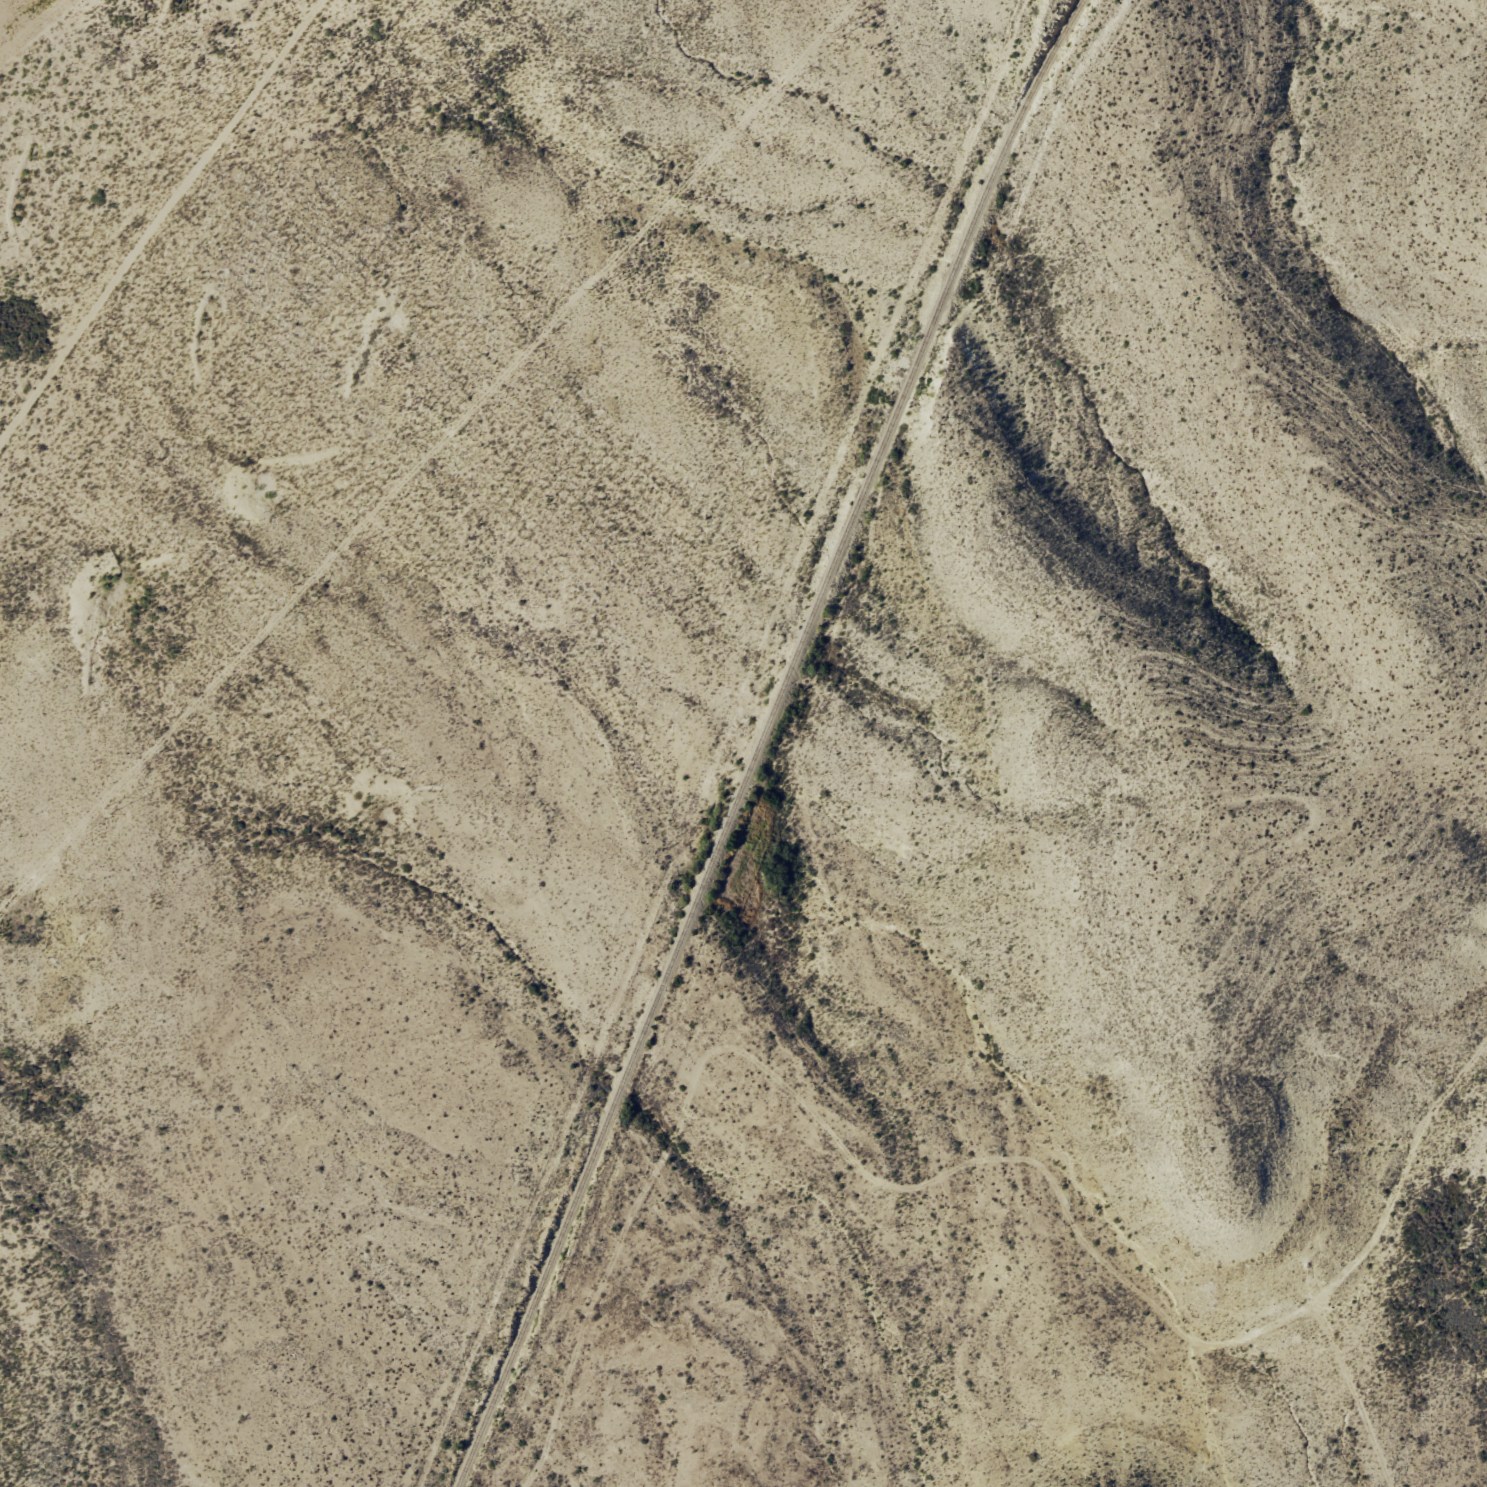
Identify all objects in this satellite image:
power tower: (834, 35)
road: (160, 257)
power tower: (594, 292)
power tower: (349, 552)
railway: (759, 739)
power tower: (106, 810)
road: (912, 1165)
road: (1444, 1256)

